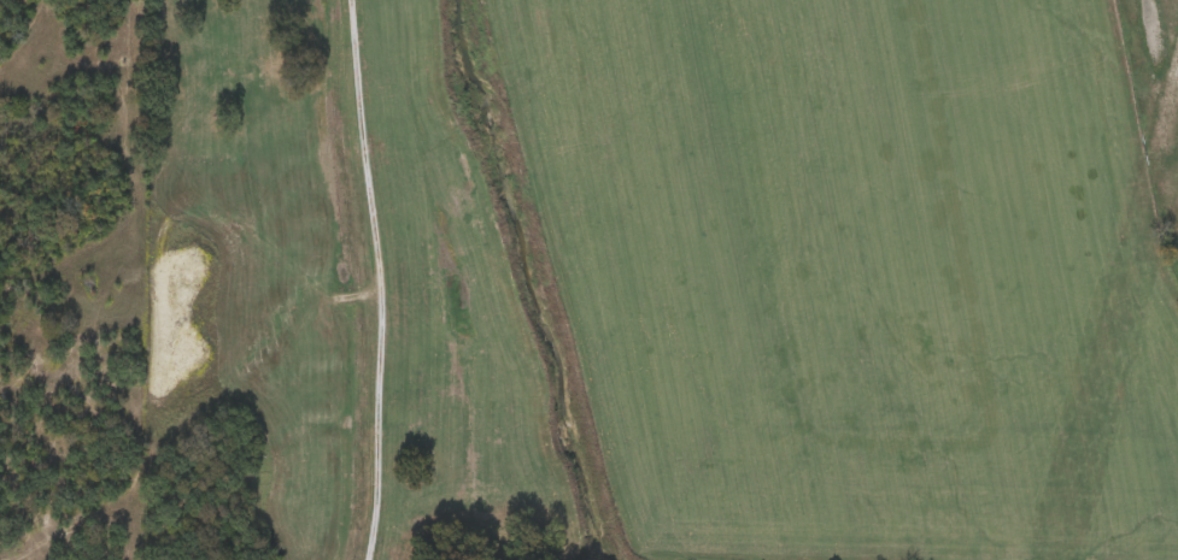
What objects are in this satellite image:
road: (376, 279)

